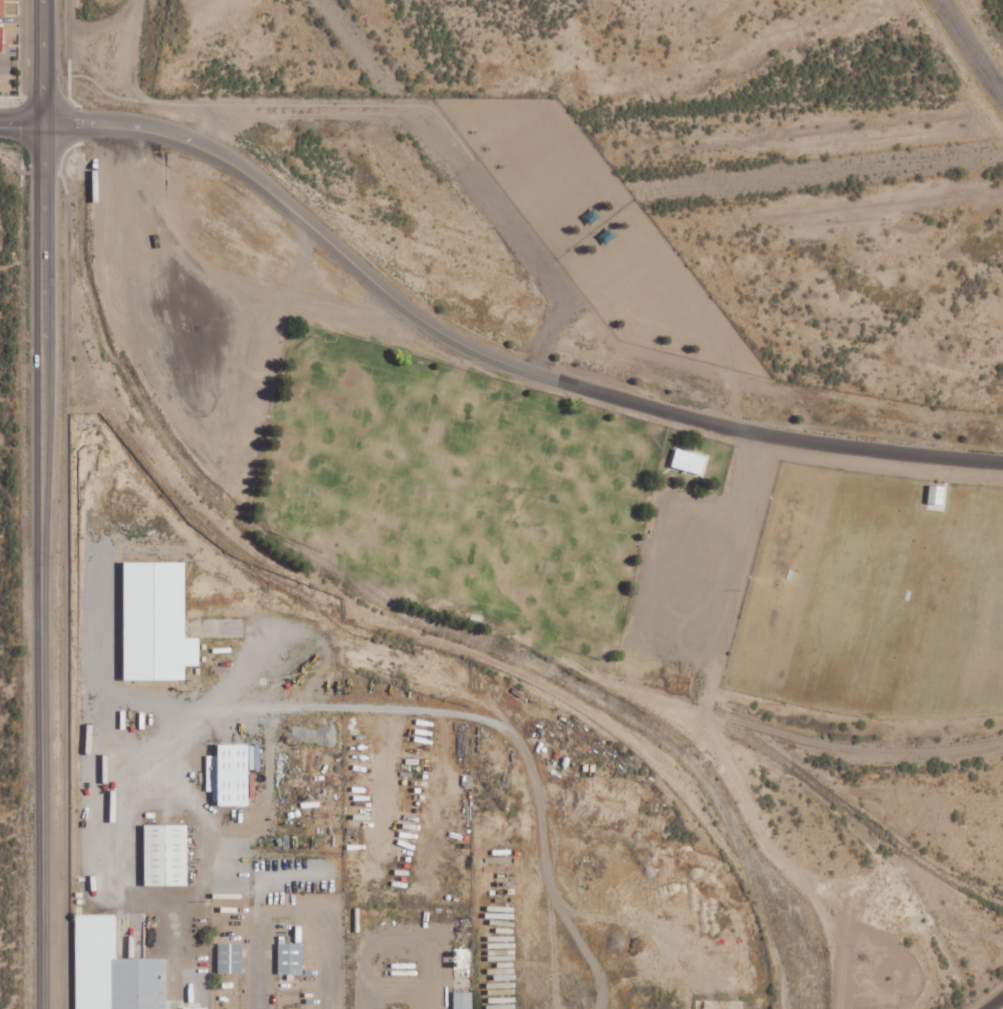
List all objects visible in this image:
building: (2, 8)
railway: (67, 22)
building: (2, 38)
airport taxiway: (973, 41)
road: (38, 59)
road: (19, 117)
road: (490, 357)
building: (690, 461)
building: (937, 494)
road: (40, 563)
building: (158, 623)
building: (167, 856)
building: (231, 958)
building: (291, 959)
building: (115, 970)
building: (464, 1000)
road: (997, 1005)

